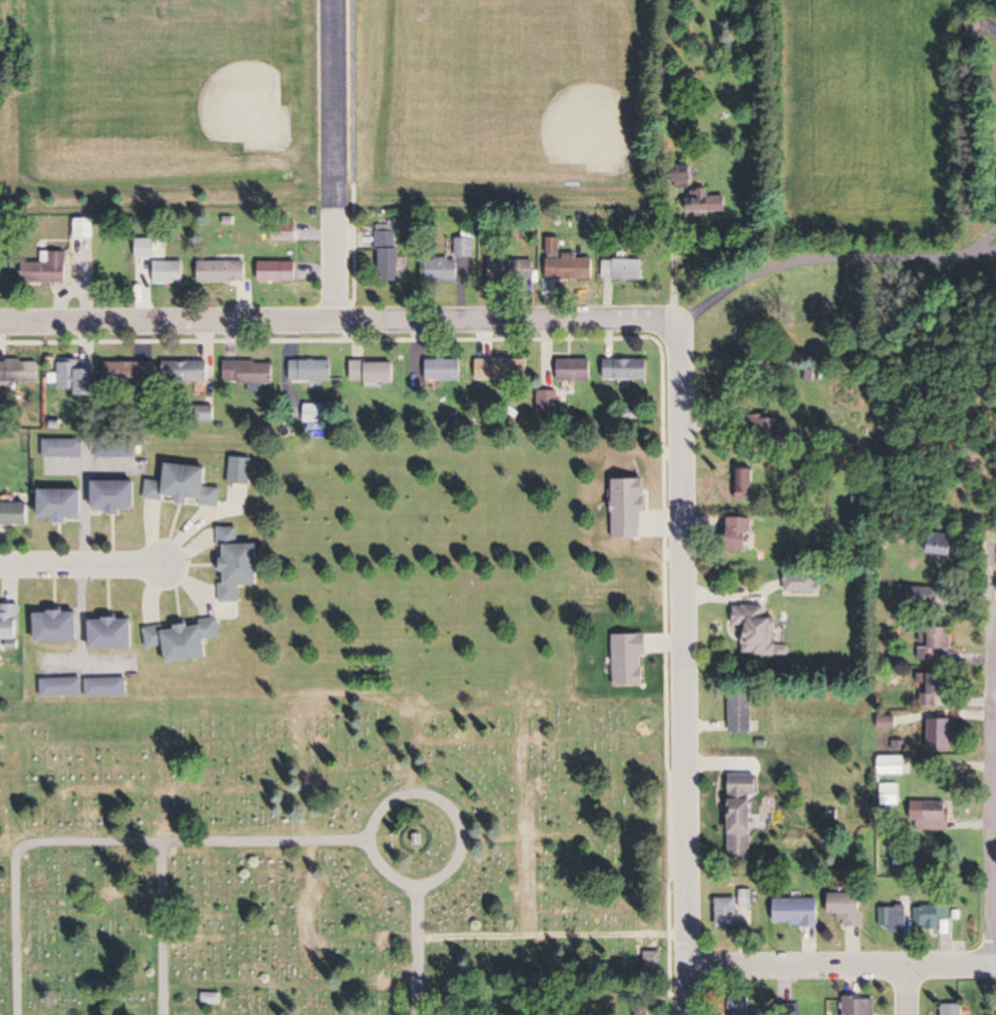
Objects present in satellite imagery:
park: (525, 41)
park: (248, 108)
park: (584, 132)
road: (334, 163)
building: (706, 202)
building: (84, 229)
building: (285, 232)
building: (466, 247)
building: (389, 254)
road: (829, 261)
building: (568, 265)
building: (48, 270)
building: (443, 271)
building: (511, 271)
building: (623, 271)
building: (223, 272)
building: (279, 272)
building: (169, 273)
road: (338, 326)
building: (627, 369)
building: (443, 370)
building: (501, 370)
building: (576, 370)
building: (20, 371)
building: (311, 371)
building: (249, 372)
building: (373, 372)
building: (131, 374)
building: (188, 374)
building: (79, 378)
building: (548, 401)
building: (319, 413)
building: (768, 429)
building: (64, 448)
building: (185, 486)
building: (745, 487)
building: (116, 497)
building: (64, 504)
building: (15, 513)
building: (744, 534)
building: (943, 544)
road: (82, 559)
building: (238, 565)
building: (803, 581)
building: (928, 597)
building: (10, 622)
building: (61, 627)
building: (759, 631)
building: (114, 634)
building: (184, 640)
building: (935, 642)
road: (679, 670)
building: (62, 687)
building: (106, 687)
building: (938, 692)
building: (743, 713)
building: (941, 735)
road: (994, 754)
building: (893, 765)
road: (390, 804)
building: (746, 816)
building: (929, 816)
road: (995, 827)
road: (90, 842)
park: (310, 843)
building: (734, 909)
building: (849, 909)
building: (798, 913)
building: (932, 916)
building: (895, 919)
road: (415, 929)
road: (841, 965)
road: (904, 990)
road: (412, 991)
building: (212, 999)
building: (745, 1006)
building: (862, 1006)
building: (955, 1010)

